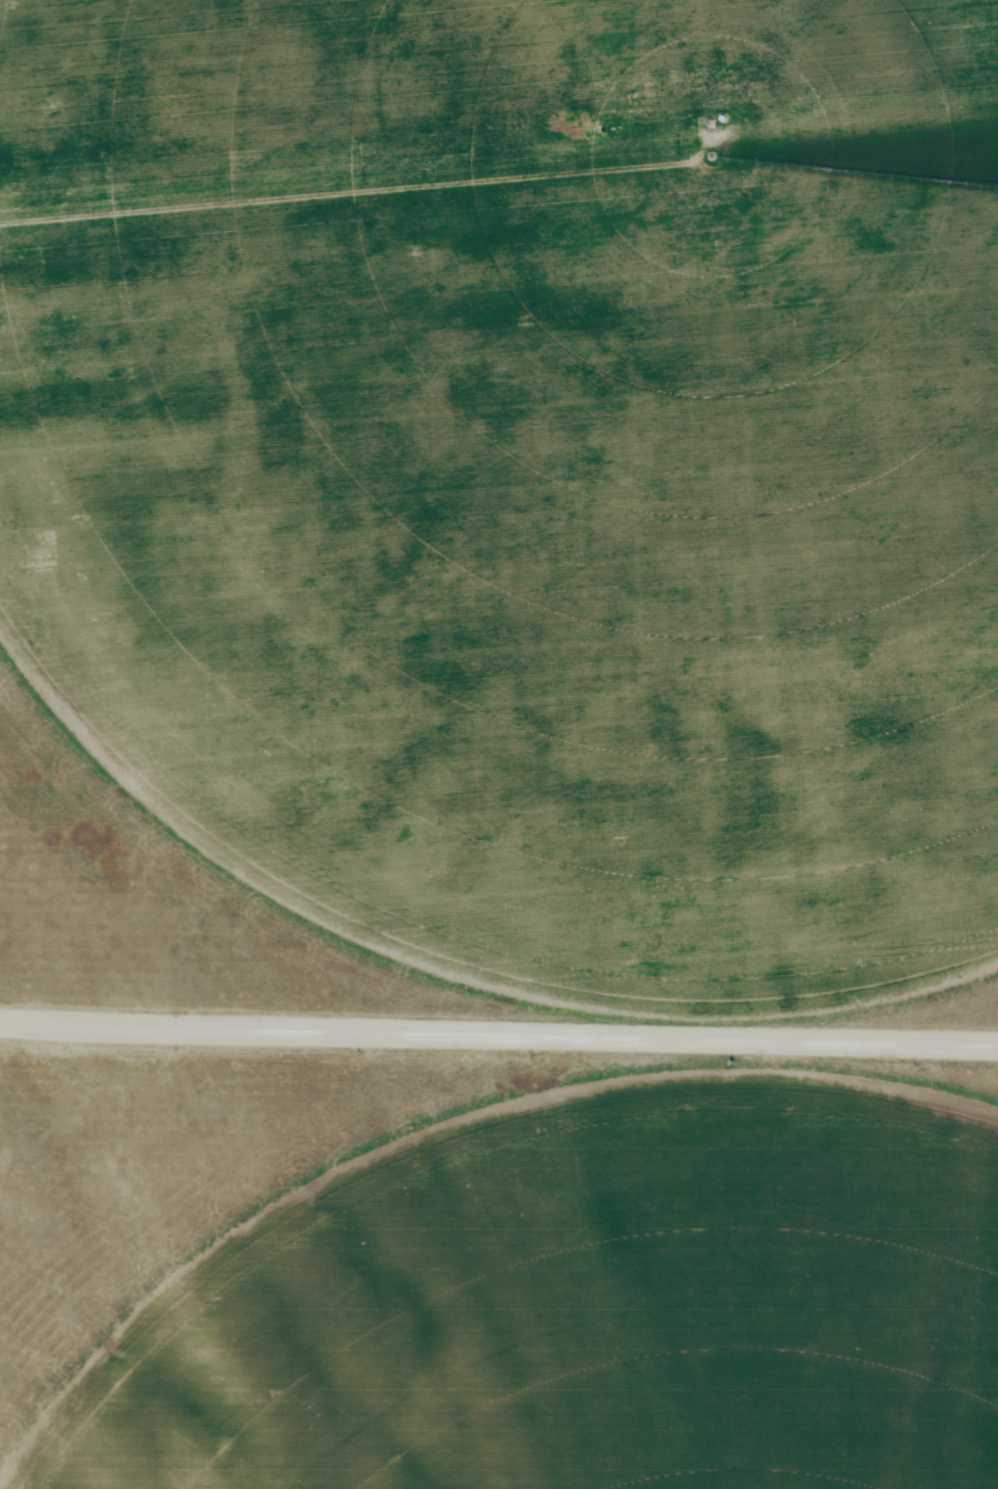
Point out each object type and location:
crop: (525, 472)
road: (498, 1037)
crop: (579, 1305)

